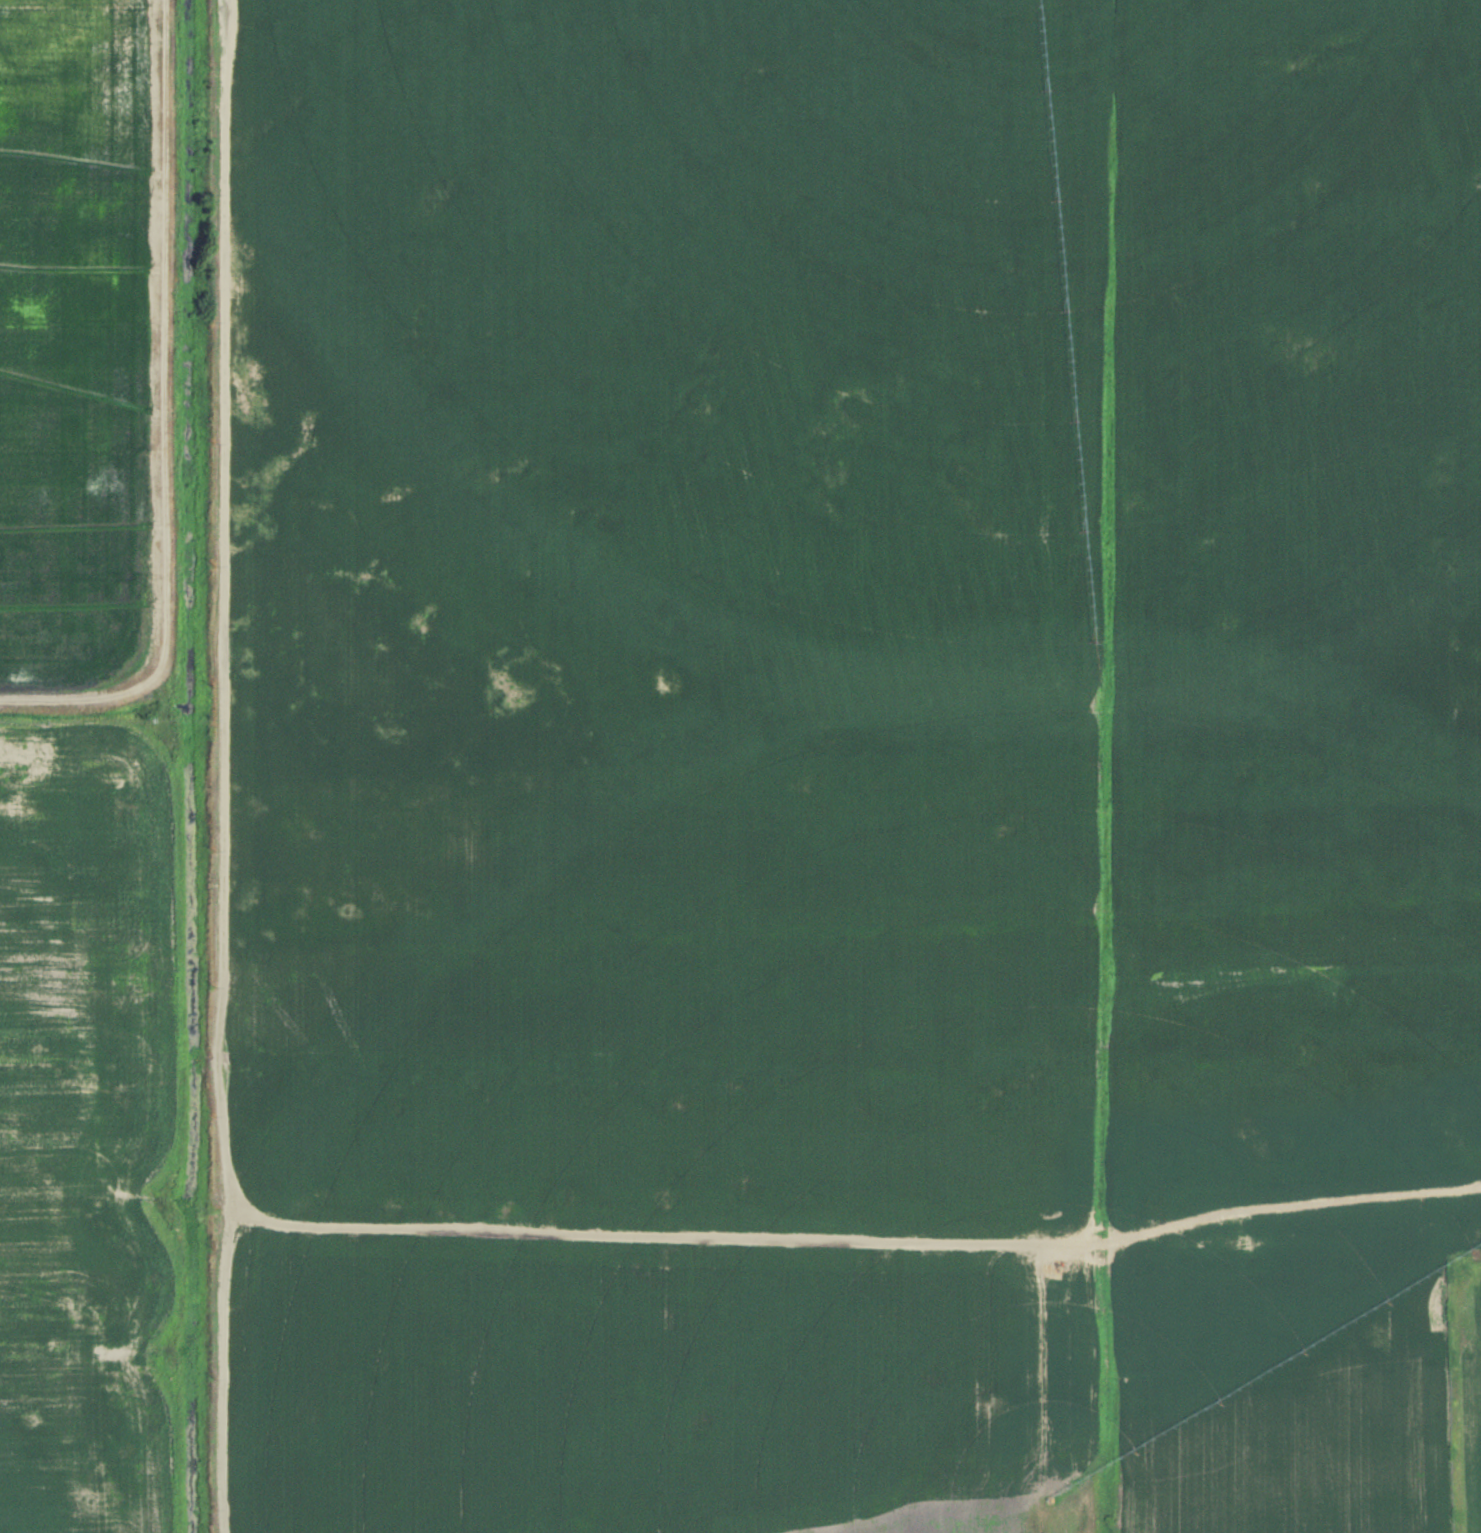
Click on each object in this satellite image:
airport: (1463, 1392)

